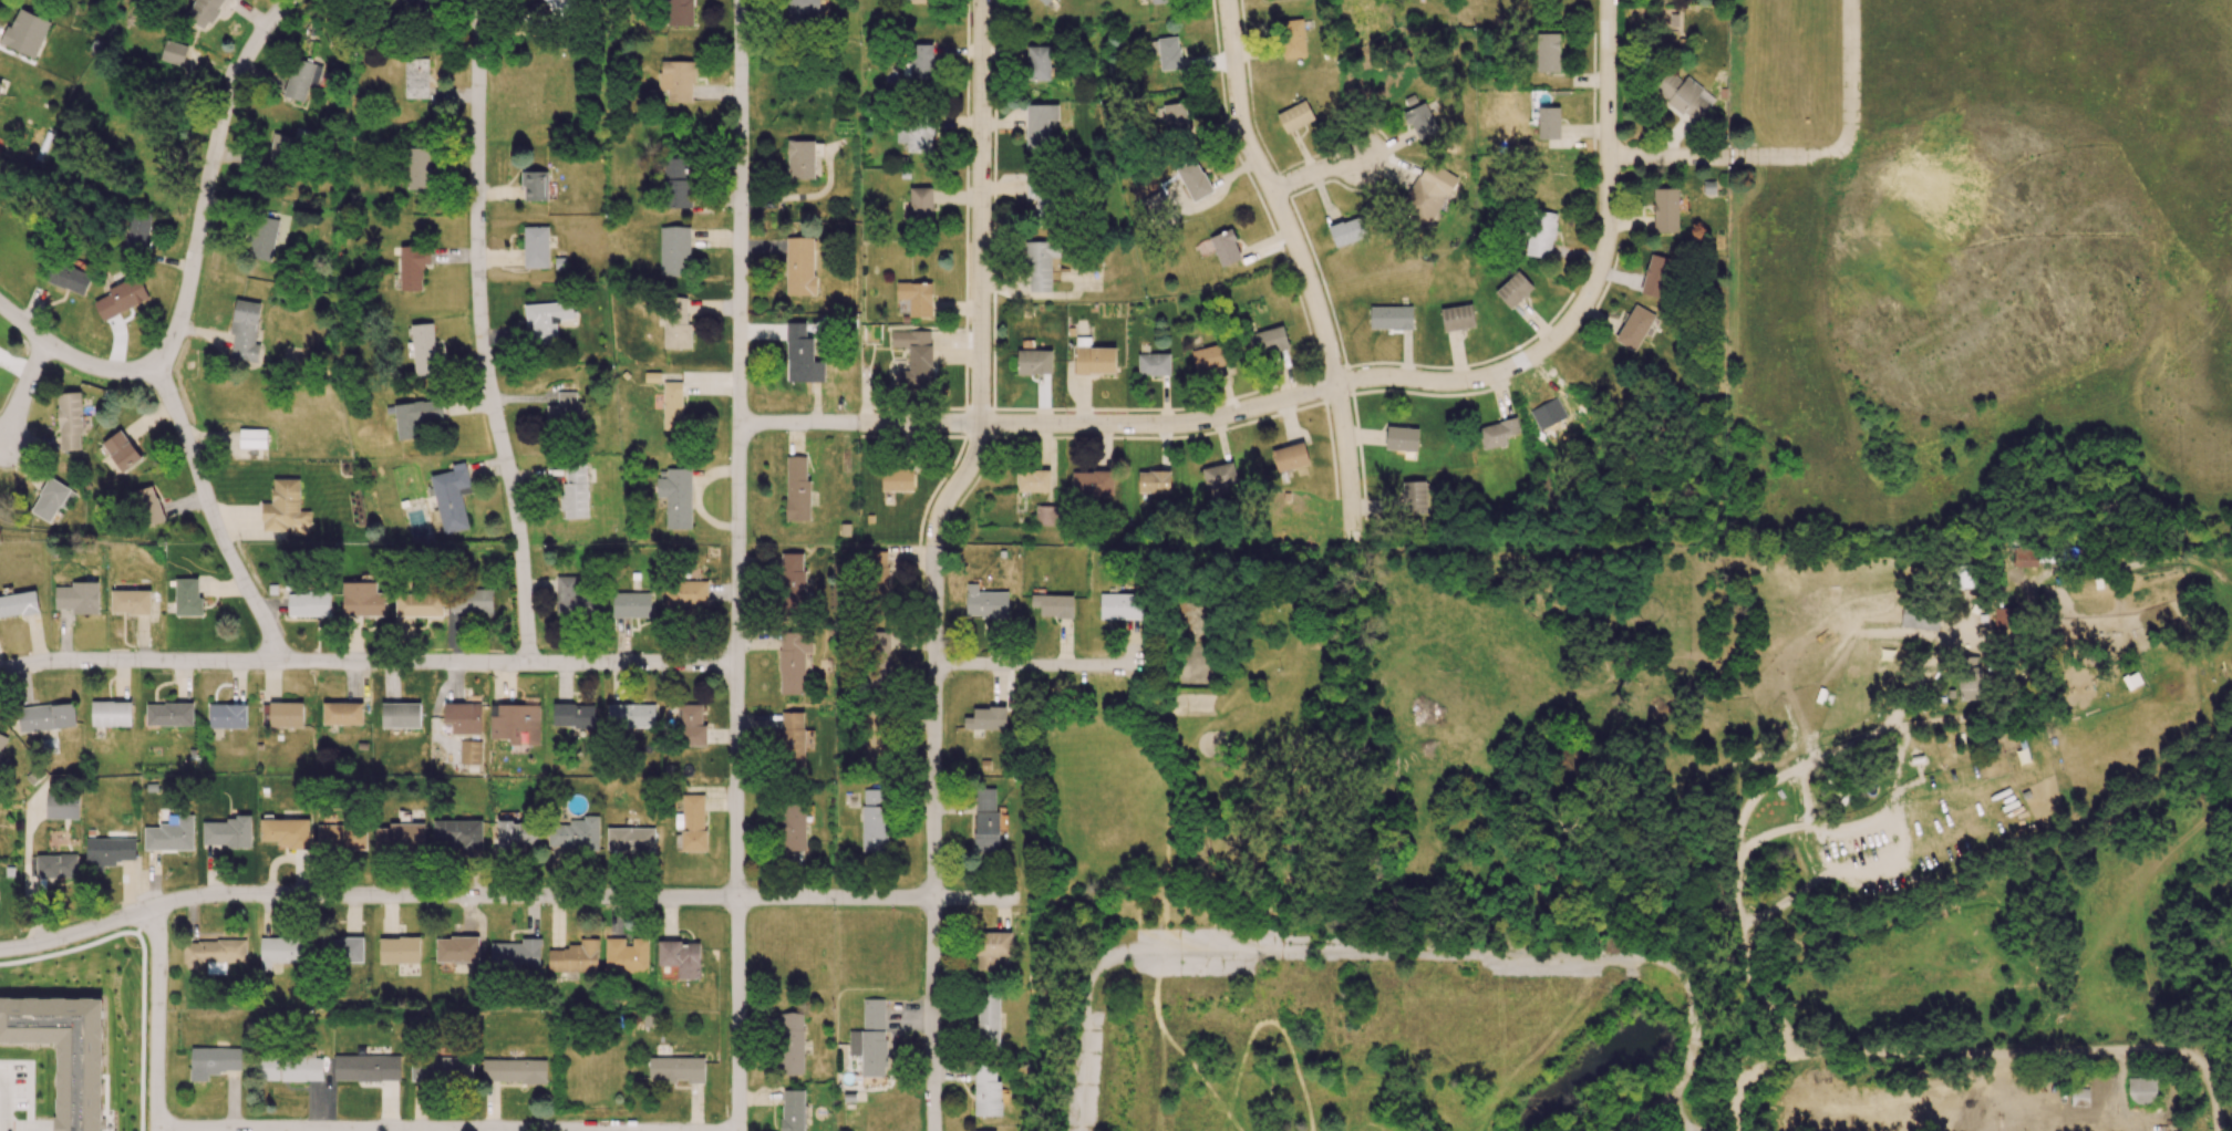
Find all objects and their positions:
building: (921, 1)
building: (1046, 1)
building: (1161, 1)
building: (418, 4)
building: (560, 8)
building: (804, 10)
building: (204, 11)
building: (679, 12)
building: (25, 32)
building: (1292, 39)
building: (173, 52)
building: (1168, 52)
building: (1547, 52)
building: (921, 61)
building: (1037, 63)
road: (1851, 74)
building: (416, 77)
building: (301, 79)
building: (676, 80)
building: (0, 85)
building: (1684, 95)
building: (1175, 116)
building: (1294, 116)
building: (1420, 121)
building: (1548, 123)
building: (1040, 124)
building: (917, 137)
building: (280, 149)
road: (1726, 157)
building: (803, 158)
building: (418, 168)
road: (1314, 172)
road: (209, 173)
building: (1193, 179)
building: (676, 184)
building: (535, 185)
building: (1428, 193)
building: (1038, 196)
road: (1609, 196)
building: (920, 203)
building: (1665, 210)
building: (137, 230)
building: (1347, 231)
building: (1541, 234)
building: (263, 238)
building: (536, 247)
building: (1224, 248)
building: (674, 251)
building: (1041, 264)
building: (800, 266)
road: (1303, 267)
park: (1985, 267)
building: (412, 268)
building: (1656, 276)
building: (69, 278)
building: (1513, 290)
building: (121, 297)
building: (916, 298)
building: (1391, 318)
building: (1457, 318)
building: (546, 320)
building: (676, 324)
building: (1634, 328)
building: (245, 331)
road: (480, 332)
building: (1268, 341)
building: (423, 350)
building: (798, 353)
building: (914, 355)
road: (73, 356)
building: (1209, 357)
building: (1034, 362)
building: (1154, 364)
road: (24, 391)
building: (672, 405)
building: (565, 409)
building: (415, 416)
building: (70, 419)
road: (1135, 424)
building: (1497, 433)
building: (252, 438)
building: (1402, 438)
building: (121, 450)
building: (1290, 457)
building: (1219, 476)
building: (897, 479)
building: (1033, 480)
building: (1154, 481)
building: (1093, 483)
building: (797, 488)
building: (575, 490)
building: (676, 497)
building: (1414, 497)
building: (451, 498)
building: (52, 499)
building: (148, 506)
building: (283, 507)
road: (209, 509)
building: (1045, 515)
building: (2025, 557)
road: (934, 560)
road: (736, 564)
building: (878, 573)
building: (1966, 575)
building: (793, 580)
building: (685, 595)
building: (77, 598)
building: (187, 598)
building: (361, 599)
building: (575, 599)
building: (471, 601)
building: (130, 602)
building: (309, 603)
building: (19, 604)
building: (418, 604)
building: (631, 604)
building: (986, 604)
building: (1053, 605)
building: (1120, 606)
building: (1920, 618)
building: (2005, 621)
building: (794, 660)
road: (366, 661)
building: (880, 662)
road: (1048, 667)
building: (1970, 677)
building: (111, 713)
building: (342, 713)
building: (169, 714)
building: (286, 714)
building: (400, 715)
building: (572, 715)
building: (631, 715)
building: (46, 716)
building: (227, 716)
building: (463, 717)
building: (986, 718)
building: (515, 723)
building: (691, 726)
building: (2, 740)
road: (1859, 740)
building: (795, 743)
building: (469, 751)
park: (1207, 782)
building: (62, 806)
building: (874, 820)
building: (985, 821)
building: (692, 822)
building: (795, 827)
building: (226, 832)
building: (286, 832)
building: (575, 833)
road: (1769, 833)
building: (170, 834)
building: (401, 834)
building: (517, 834)
building: (459, 836)
building: (341, 837)
building: (630, 839)
building: (108, 850)
road: (1892, 854)
building: (56, 865)
road: (509, 894)
building: (992, 948)
building: (347, 950)
building: (399, 950)
building: (456, 950)
building: (214, 951)
building: (281, 951)
building: (516, 954)
road: (1417, 954)
building: (626, 955)
building: (575, 957)
building: (681, 957)
building: (988, 1017)
road: (158, 1018)
building: (870, 1038)
building: (793, 1044)
road: (1076, 1046)
building: (63, 1051)
road: (1967, 1052)
building: (214, 1061)
building: (290, 1068)
building: (366, 1068)
building: (441, 1069)
building: (675, 1069)
building: (514, 1070)
road: (1693, 1076)
building: (986, 1091)
building: (2142, 1091)
road: (2216, 1097)
road: (4, 1100)
road: (1656, 1107)
building: (793, 1110)
road: (1737, 1110)
road: (405, 1129)
building: (991, 1130)

